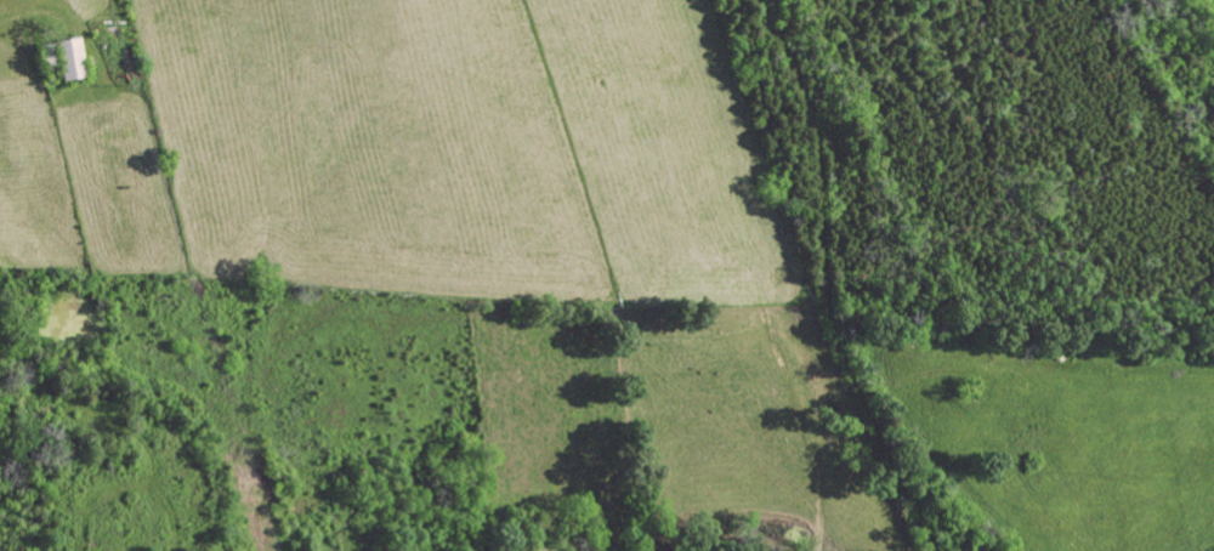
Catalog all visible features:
building: (68, 59)

